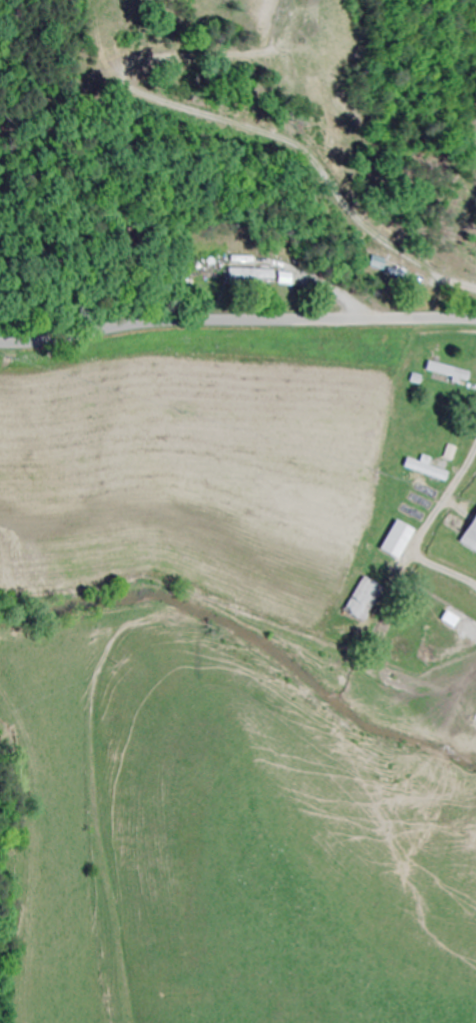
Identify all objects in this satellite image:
building: (397, 273)
building: (248, 276)
road: (237, 319)
building: (424, 471)
building: (469, 535)
building: (394, 541)
building: (362, 601)
road: (315, 675)

